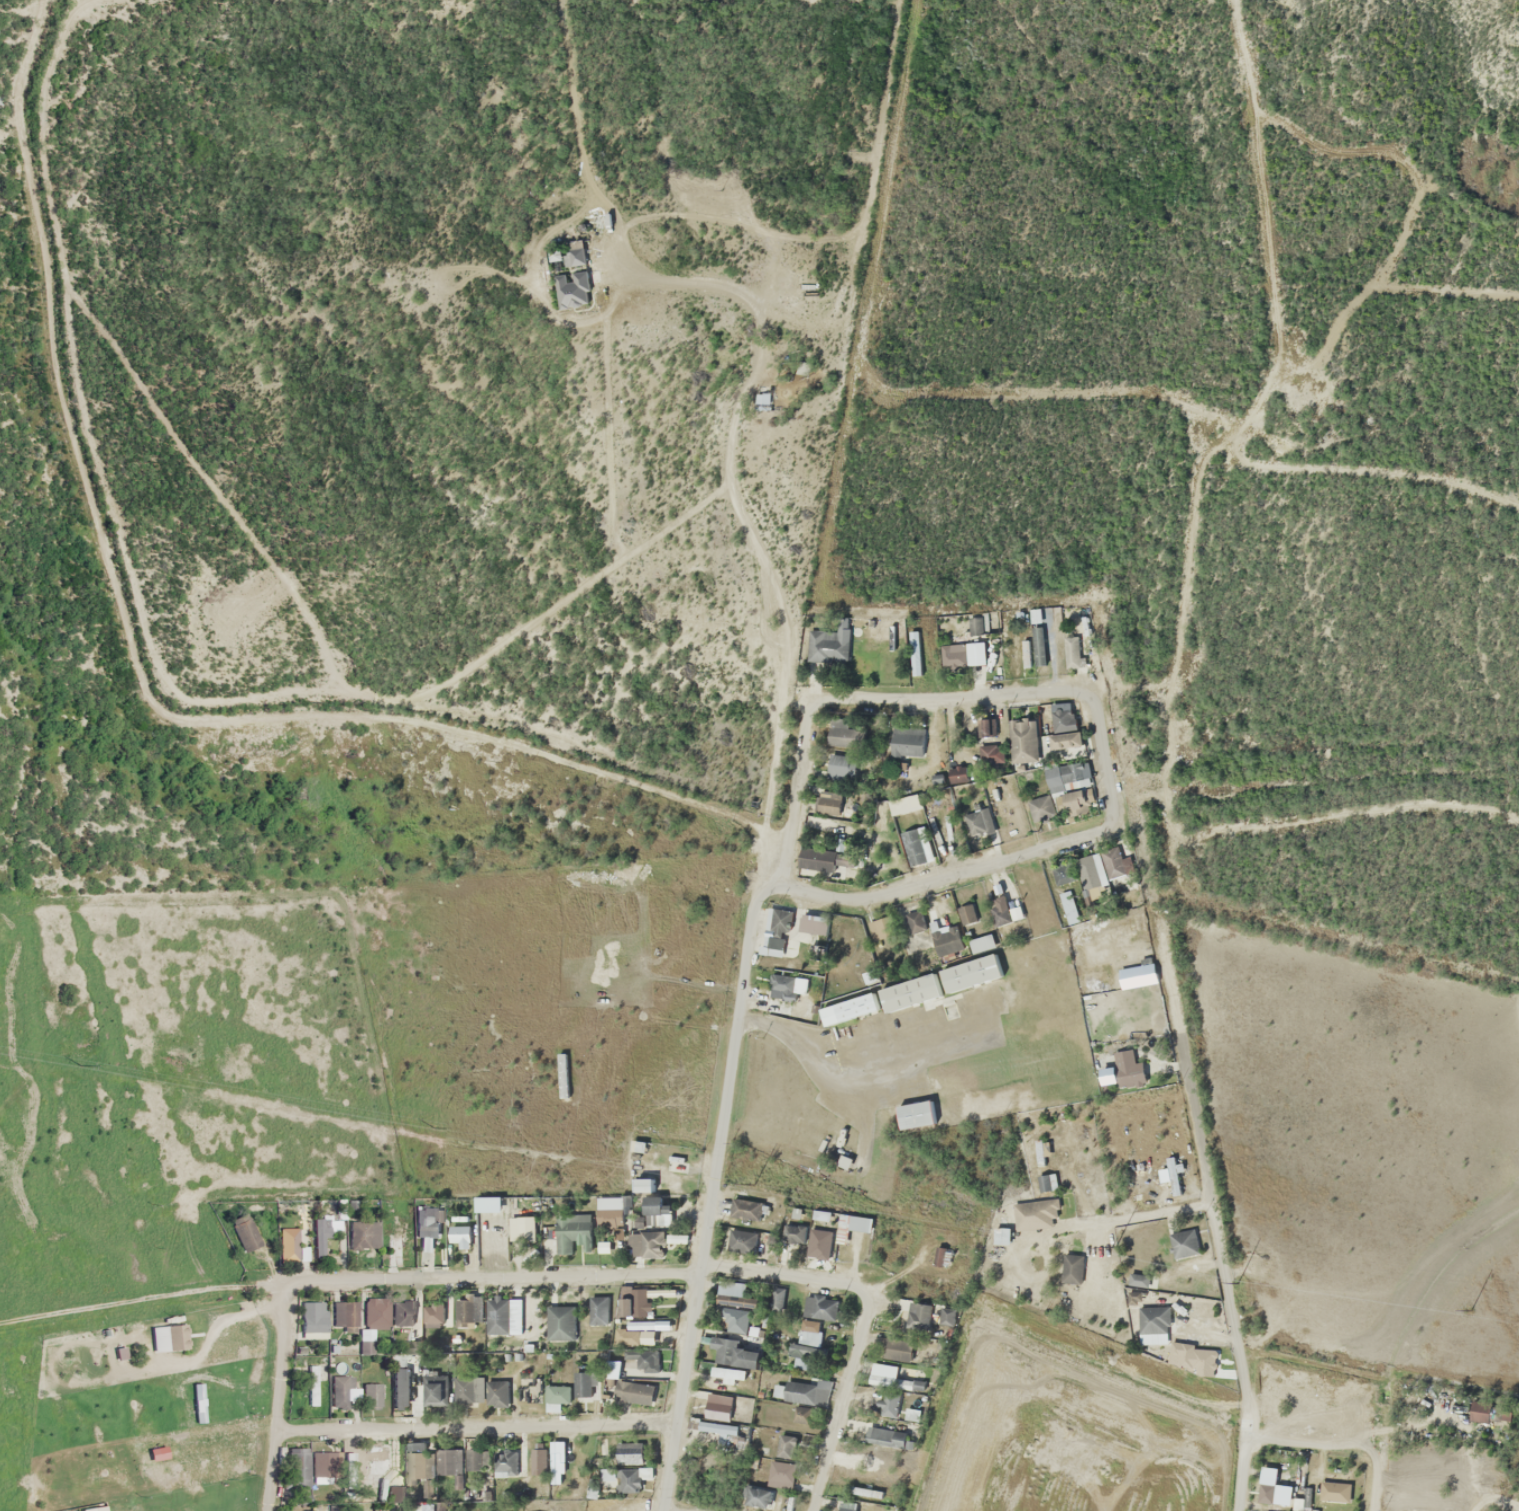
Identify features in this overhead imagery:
building: (570, 253)
building: (974, 623)
building: (1071, 652)
building: (975, 653)
building: (1025, 654)
road: (364, 717)
building: (1063, 720)
building: (846, 733)
building: (907, 740)
building: (1065, 740)
building: (1024, 741)
road: (335, 754)
building: (965, 754)
building: (991, 755)
building: (841, 766)
building: (960, 773)
building: (1065, 775)
road: (1112, 798)
road: (797, 801)
building: (1078, 802)
building: (904, 804)
building: (1041, 809)
building: (975, 822)
building: (914, 847)
building: (824, 858)
building: (1115, 869)
building: (966, 913)
building: (915, 921)
building: (947, 940)
building: (981, 943)
building: (970, 973)
building: (1136, 974)
building: (909, 992)
building: (849, 1008)
road: (732, 1024)
building: (1122, 1071)
building: (915, 1114)
building: (1172, 1175)
building: (1046, 1181)
building: (644, 1185)
building: (745, 1208)
road: (1162, 1209)
building: (656, 1211)
building: (1039, 1211)
building: (426, 1222)
building: (522, 1228)
building: (572, 1232)
building: (460, 1233)
building: (793, 1233)
building: (319, 1236)
road: (1217, 1236)
building: (401, 1238)
building: (740, 1240)
building: (819, 1242)
building: (1182, 1242)
building: (288, 1243)
building: (648, 1243)
road: (683, 1271)
building: (1137, 1279)
building: (734, 1295)
building: (776, 1299)
building: (636, 1303)
building: (819, 1307)
building: (598, 1310)
building: (468, 1311)
building: (403, 1312)
building: (375, 1313)
building: (343, 1314)
building: (435, 1314)
building: (503, 1315)
building: (918, 1315)
building: (312, 1319)
building: (561, 1322)
building: (641, 1324)
building: (1153, 1324)
road: (688, 1340)
building: (806, 1344)
building: (896, 1349)
building: (733, 1353)
building: (632, 1360)
building: (1202, 1360)
building: (583, 1384)
building: (889, 1387)
building: (406, 1388)
building: (469, 1388)
building: (341, 1390)
building: (435, 1390)
building: (633, 1391)
building: (496, 1393)
building: (805, 1393)
building: (371, 1395)
building: (556, 1396)
road: (275, 1401)
building: (717, 1407)
building: (1479, 1411)
road: (475, 1427)
building: (718, 1427)
building: (885, 1436)
road: (1313, 1439)
building: (786, 1445)
building: (629, 1452)
building: (538, 1458)
building: (478, 1459)
building: (419, 1461)
building: (449, 1461)
building: (505, 1463)
building: (321, 1464)
building: (556, 1466)
building: (298, 1469)
building: (780, 1474)
road: (1375, 1478)
building: (613, 1480)
building: (426, 1488)
building: (861, 1491)
building: (1334, 1491)
building: (1268, 1493)
building: (395, 1495)
building: (758, 1497)
building: (847, 1505)
building: (428, 1506)

